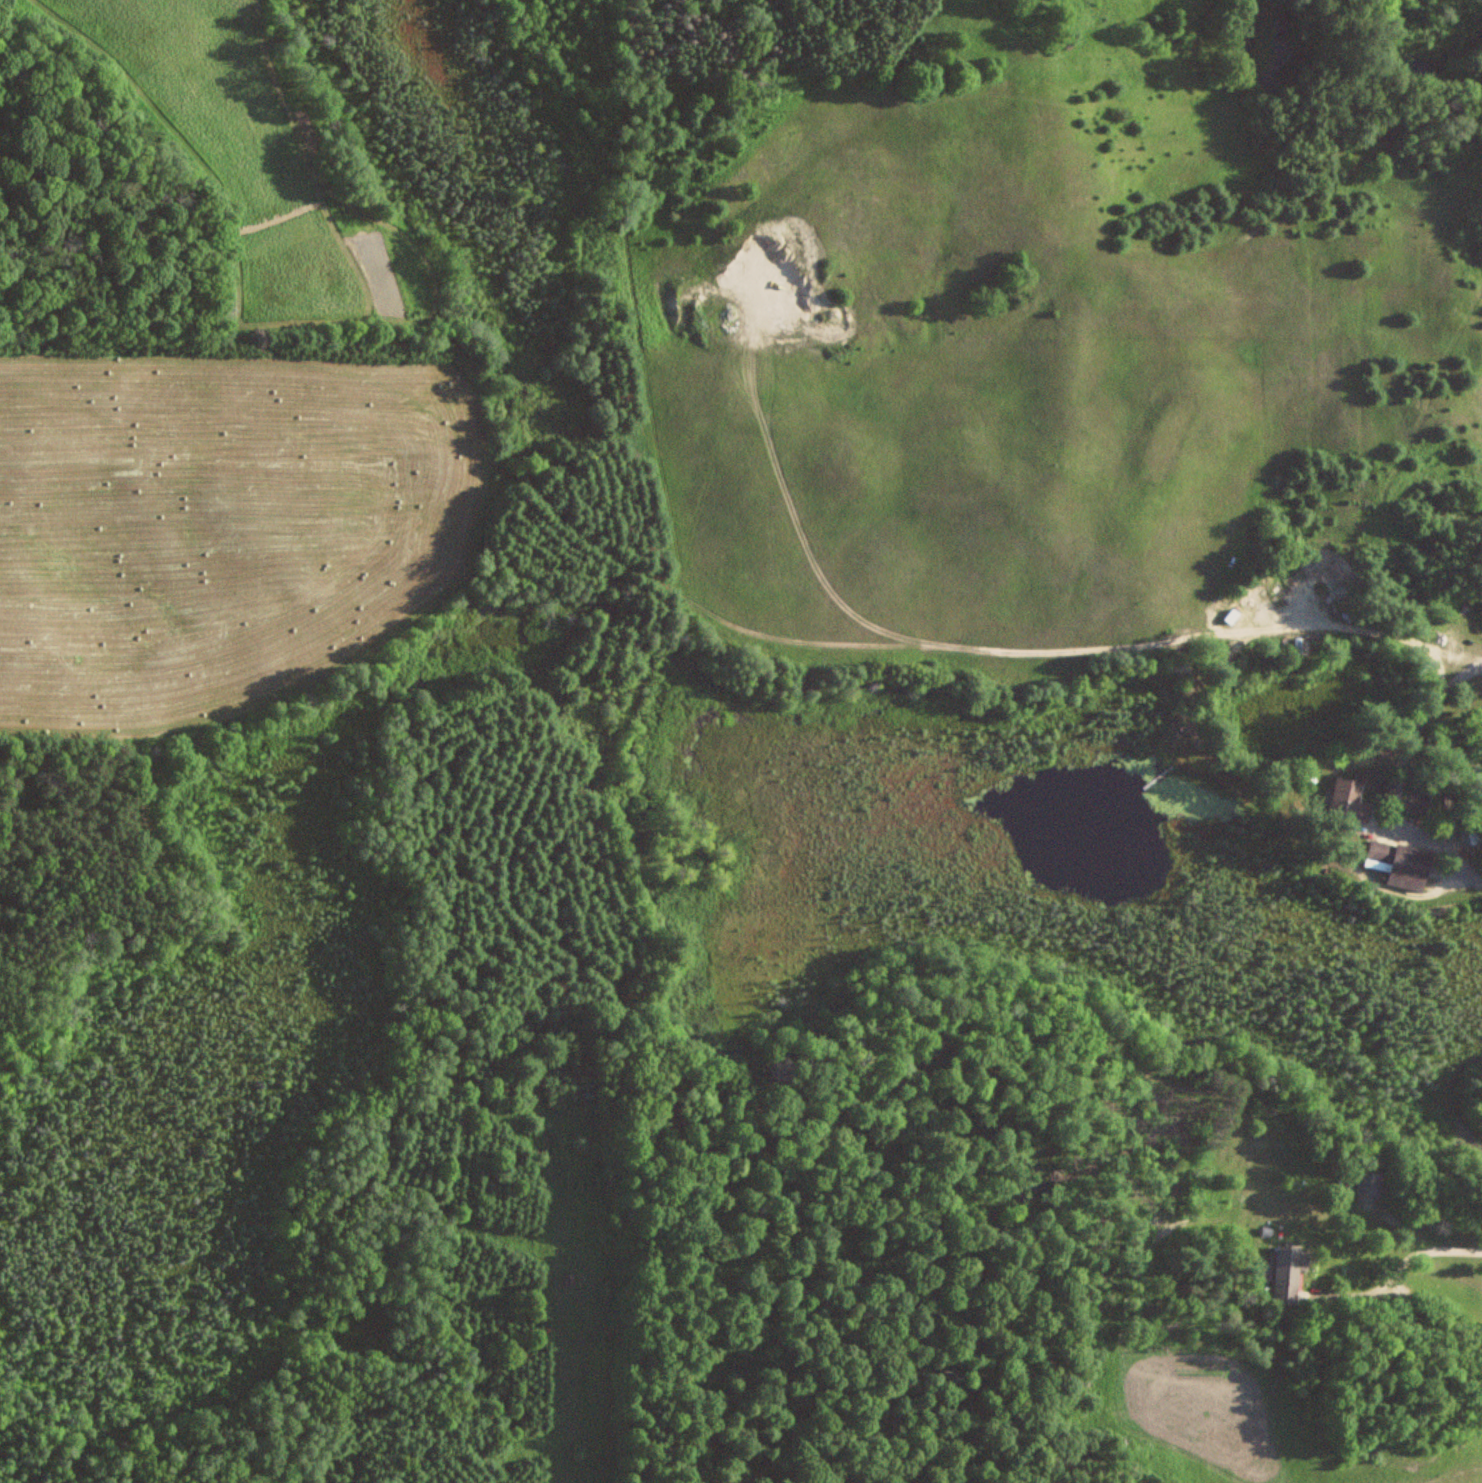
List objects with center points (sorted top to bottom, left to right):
building: (1351, 800)
building: (1475, 832)
building: (1402, 864)
building: (1370, 1184)
building: (1289, 1273)

